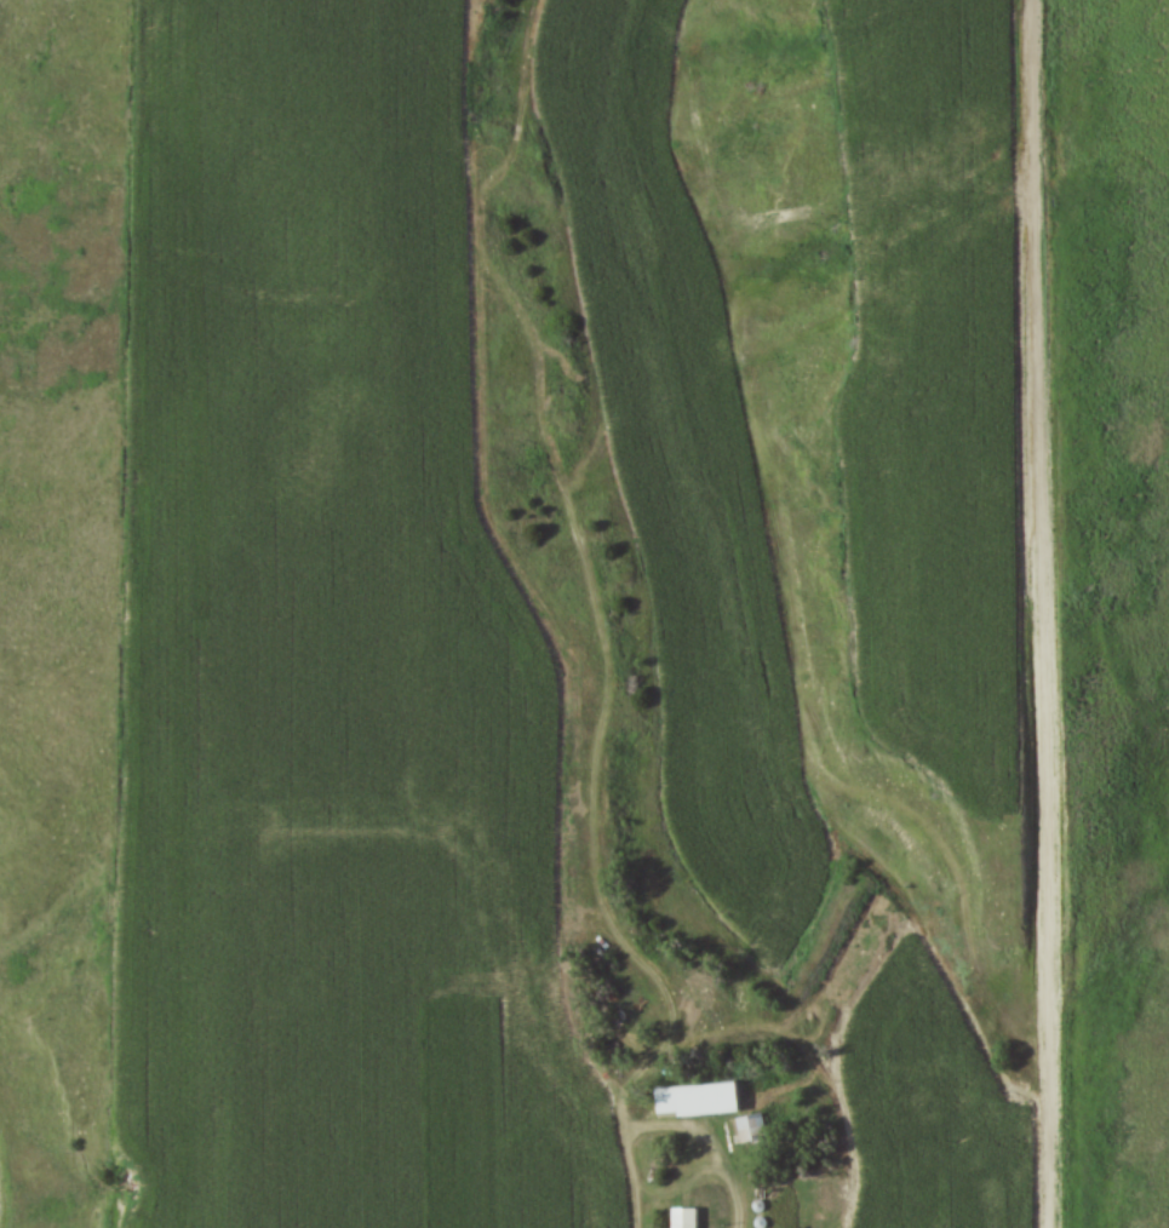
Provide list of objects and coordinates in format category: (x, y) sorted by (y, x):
road: (1044, 613)
building: (699, 1102)
building: (751, 1131)

